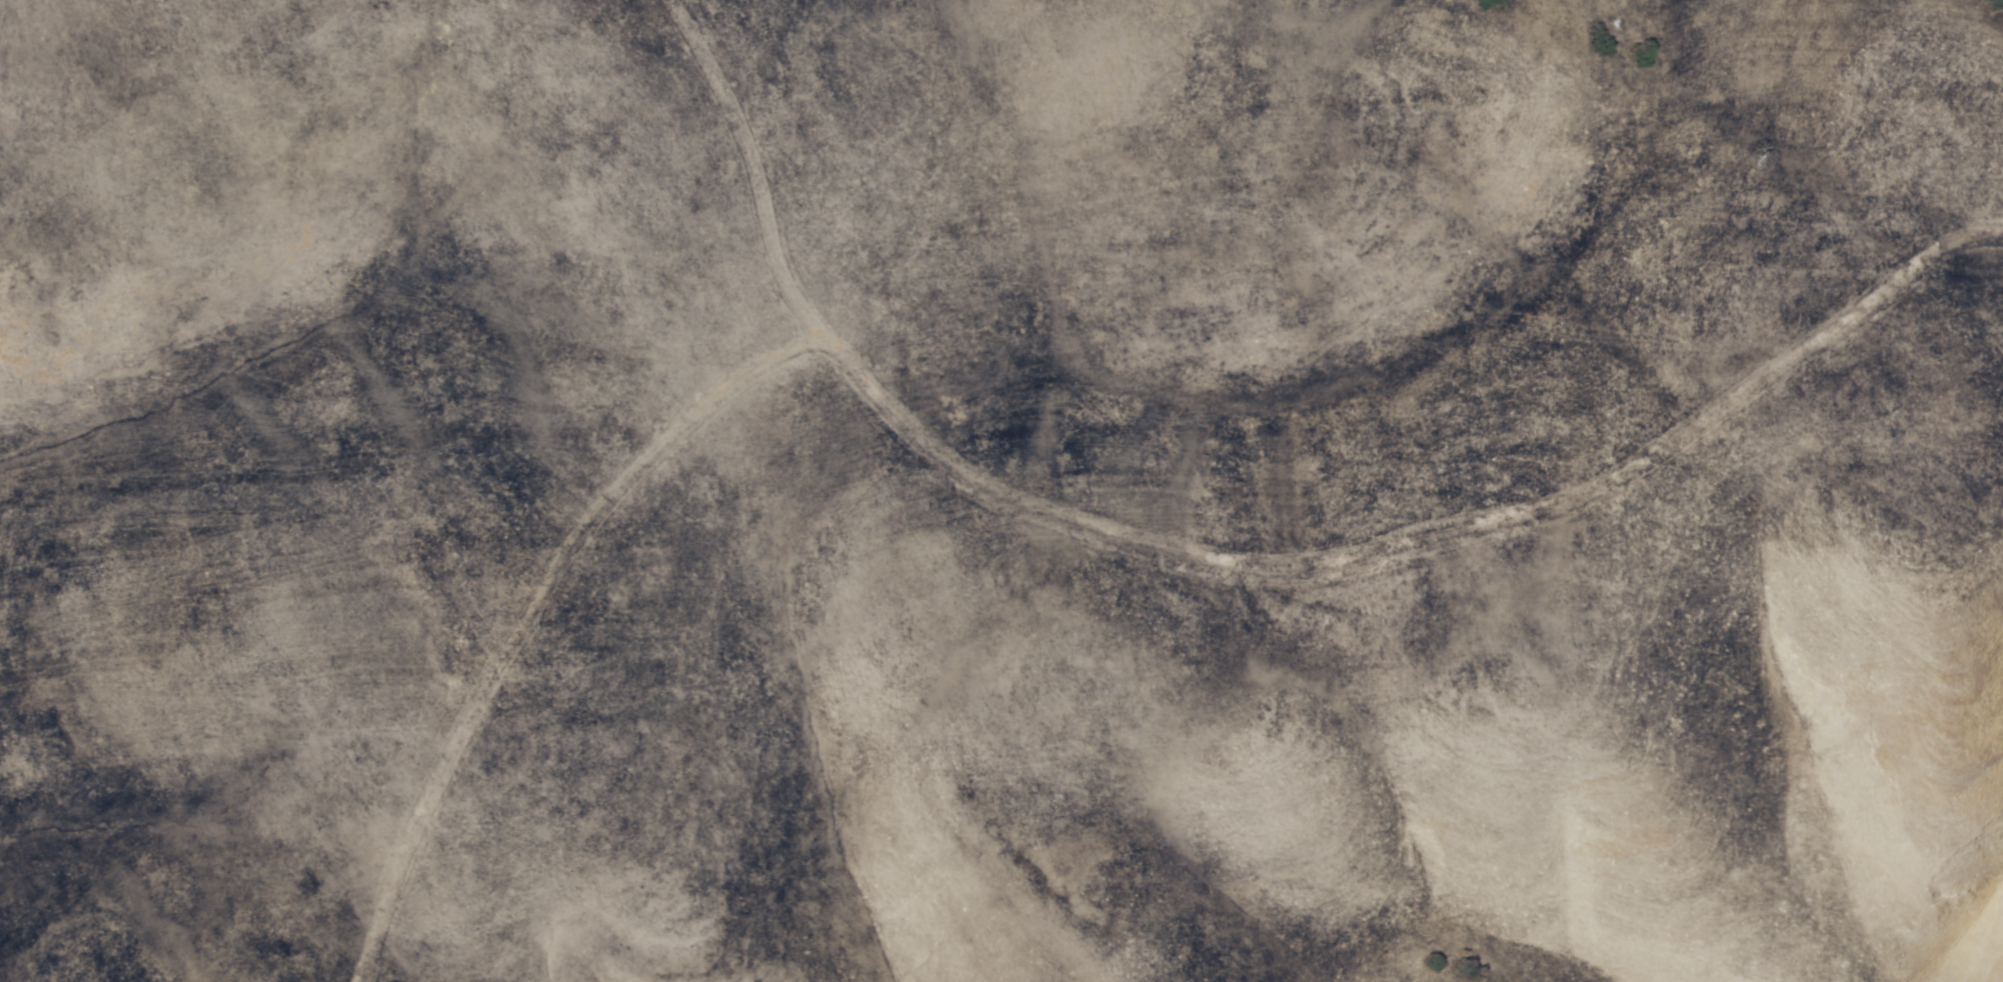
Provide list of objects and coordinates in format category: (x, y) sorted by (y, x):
road: (1207, 573)
road: (515, 605)

